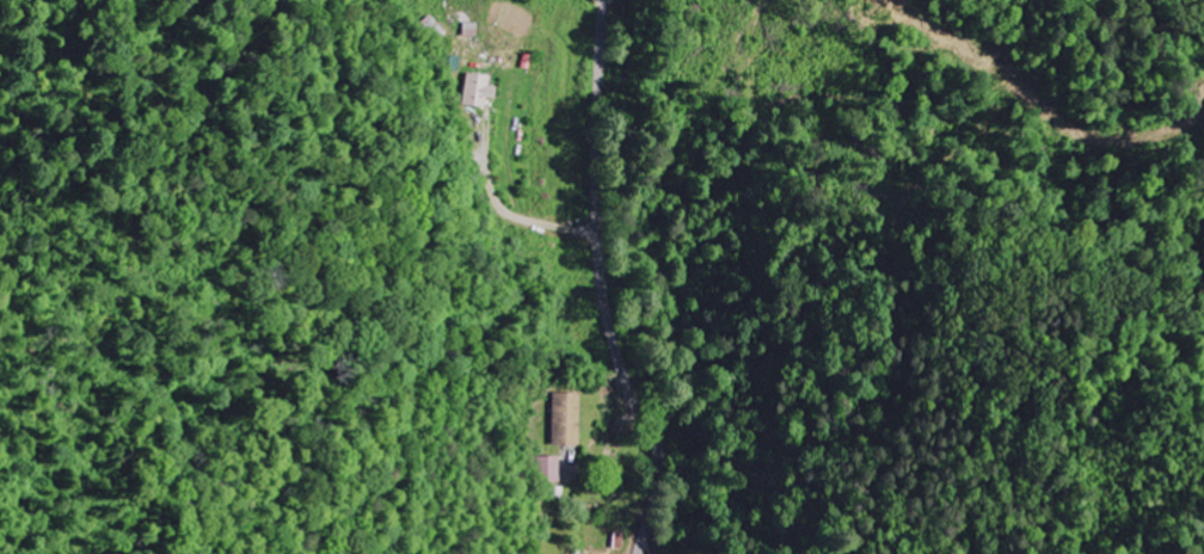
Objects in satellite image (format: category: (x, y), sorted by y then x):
building: (473, 30)
building: (483, 91)
road: (603, 283)
building: (569, 419)
building: (553, 470)

